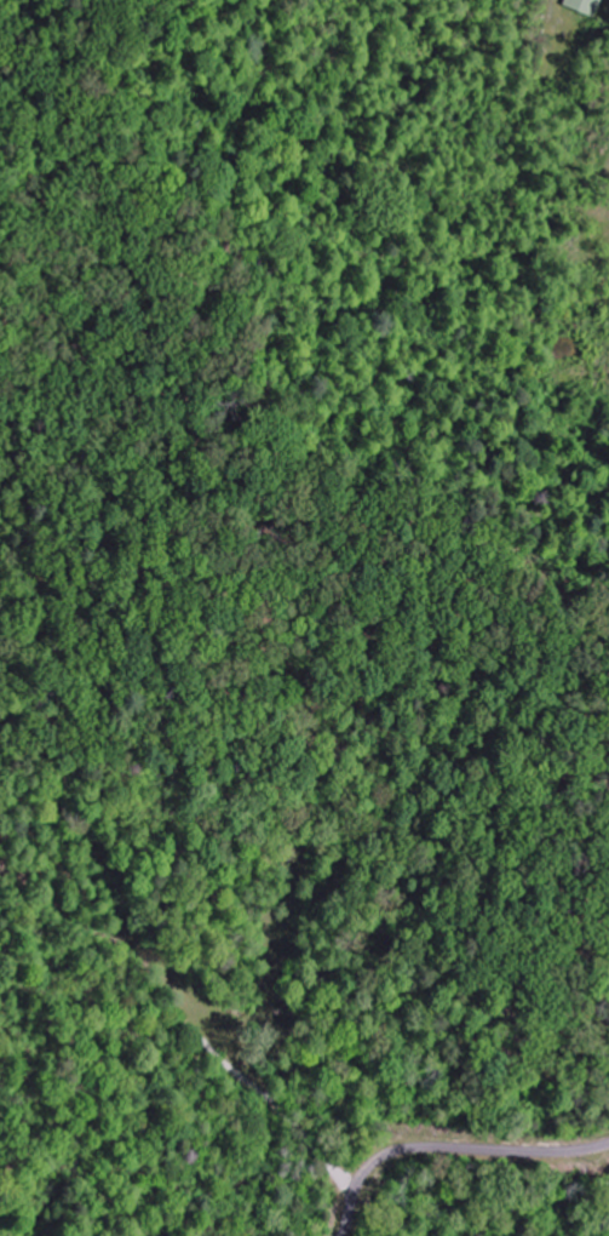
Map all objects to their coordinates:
building: (585, 6)
road: (453, 1155)

